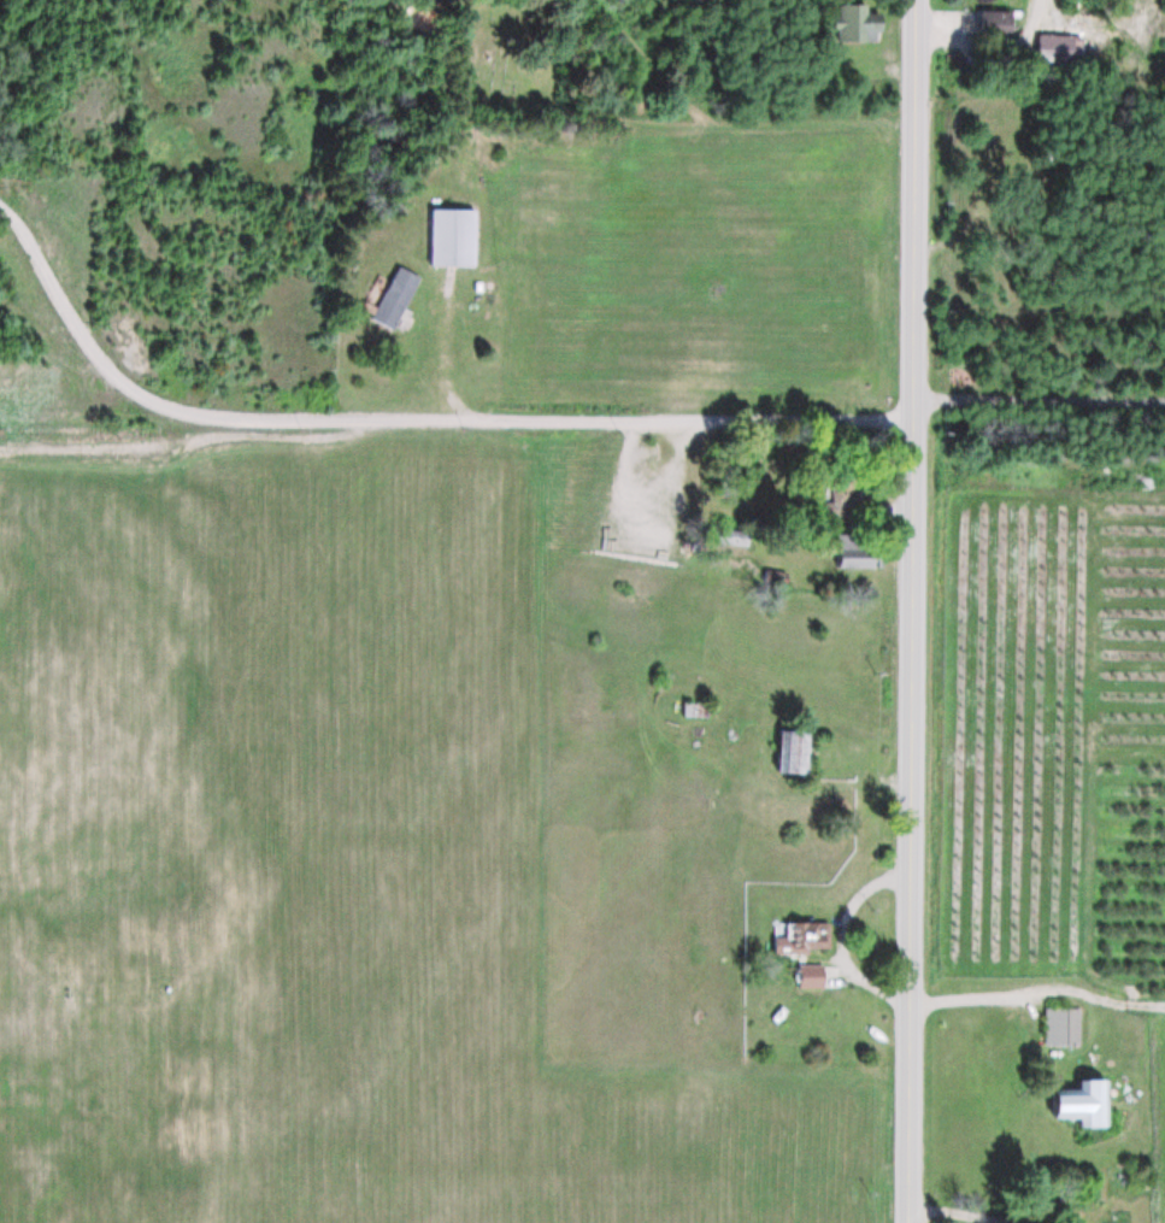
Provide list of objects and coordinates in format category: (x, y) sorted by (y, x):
building: (863, 23)
building: (996, 23)
building: (1058, 48)
road: (725, 119)
building: (1025, 153)
building: (452, 237)
building: (394, 298)
road: (1039, 399)
road: (404, 419)
building: (840, 493)
building: (851, 558)
road: (911, 611)
building: (696, 711)
building: (795, 752)
building: (800, 937)
building: (811, 976)
building: (1063, 1025)
building: (1087, 1104)

